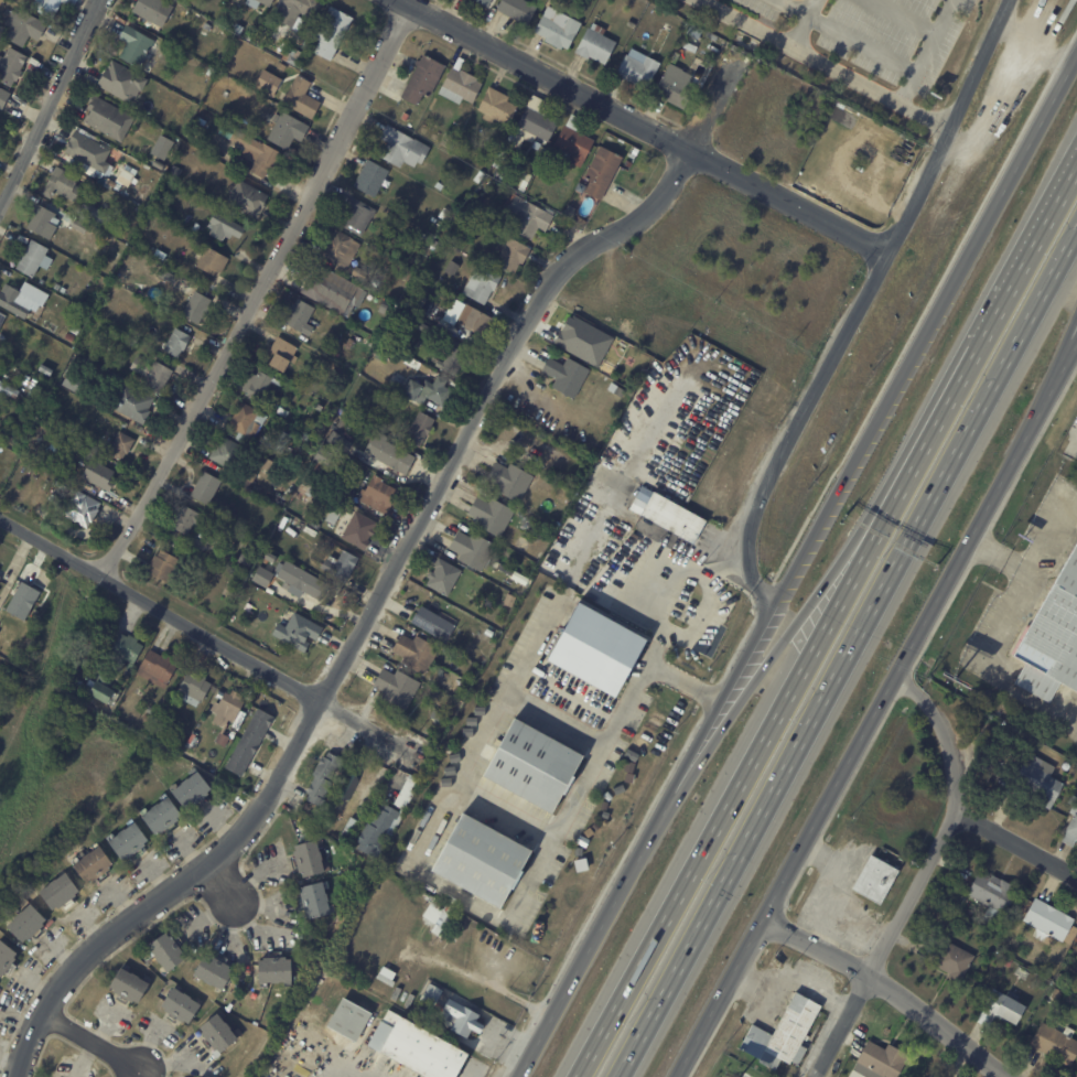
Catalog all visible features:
building: (189, 1)
building: (486, 2)
building: (255, 4)
building: (53, 6)
building: (157, 11)
building: (301, 11)
building: (523, 11)
road: (905, 18)
road: (806, 21)
building: (633, 23)
road: (746, 24)
building: (26, 28)
building: (240, 28)
building: (560, 29)
building: (335, 31)
building: (697, 33)
parking lot: (880, 33)
building: (666, 39)
road: (852, 40)
building: (599, 45)
building: (139, 49)
road: (933, 50)
building: (295, 55)
building: (12, 67)
building: (284, 67)
building: (640, 69)
building: (427, 79)
building: (122, 82)
building: (465, 84)
road: (876, 84)
building: (678, 87)
building: (4, 98)
building: (304, 99)
building: (499, 106)
road: (52, 107)
building: (407, 117)
building: (111, 119)
building: (538, 122)
road: (955, 126)
road: (643, 128)
building: (290, 131)
building: (449, 140)
building: (578, 141)
building: (162, 147)
building: (406, 148)
building: (87, 150)
building: (507, 150)
building: (545, 150)
building: (637, 152)
building: (260, 154)
building: (72, 163)
building: (160, 164)
building: (176, 172)
building: (605, 173)
building: (126, 174)
building: (541, 174)
building: (481, 177)
building: (375, 179)
building: (529, 180)
building: (64, 185)
building: (440, 185)
building: (250, 198)
building: (574, 212)
building: (98, 214)
building: (445, 214)
building: (362, 216)
building: (526, 216)
building: (44, 222)
building: (585, 222)
building: (82, 227)
building: (227, 227)
building: (423, 237)
building: (463, 239)
building: (439, 245)
building: (342, 250)
building: (515, 256)
building: (35, 259)
building: (214, 261)
building: (407, 272)
building: (362, 273)
building: (169, 277)
building: (57, 286)
building: (485, 286)
building: (64, 290)
building: (335, 290)
road: (257, 291)
building: (24, 300)
building: (198, 308)
building: (431, 309)
road: (999, 311)
building: (303, 316)
building: (473, 317)
building: (2, 321)
building: (375, 325)
building: (77, 330)
building: (428, 330)
building: (72, 337)
building: (138, 343)
building: (180, 344)
building: (351, 344)
building: (381, 346)
building: (283, 355)
building: (0, 358)
building: (456, 362)
building: (413, 363)
building: (85, 365)
building: (47, 369)
road: (1052, 371)
building: (155, 375)
building: (570, 377)
building: (76, 383)
building: (263, 387)
building: (9, 389)
building: (426, 389)
building: (620, 390)
building: (134, 403)
building: (323, 408)
building: (248, 422)
building: (356, 423)
road: (799, 424)
building: (422, 429)
building: (310, 438)
building: (341, 440)
building: (283, 442)
building: (61, 444)
building: (122, 446)
building: (231, 454)
building: (390, 454)
building: (325, 456)
building: (270, 465)
building: (322, 472)
building: (103, 475)
building: (514, 483)
building: (63, 484)
building: (209, 489)
building: (311, 493)
building: (383, 496)
building: (570, 496)
building: (111, 499)
building: (83, 507)
building: (494, 516)
building: (309, 517)
building: (191, 520)
building: (679, 520)
building: (362, 530)
building: (245, 541)
building: (475, 551)
building: (248, 560)
road: (796, 561)
building: (229, 562)
road: (726, 563)
building: (166, 566)
building: (342, 566)
building: (0, 568)
road: (390, 574)
building: (262, 577)
building: (445, 577)
building: (0, 578)
building: (302, 581)
building: (230, 591)
road: (713, 591)
building: (22, 600)
building: (511, 600)
building: (312, 605)
building: (440, 624)
building: (301, 632)
road: (549, 632)
building: (491, 633)
building: (8, 638)
building: (1053, 638)
road: (998, 639)
road: (215, 640)
building: (597, 647)
building: (125, 651)
building: (419, 653)
road: (844, 653)
road: (772, 654)
building: (160, 669)
building: (0, 679)
building: (196, 688)
building: (399, 689)
building: (106, 690)
building: (152, 710)
building: (229, 711)
road: (880, 711)
building: (148, 718)
building: (440, 718)
road: (610, 726)
building: (170, 728)
building: (225, 741)
building: (251, 742)
building: (633, 751)
building: (536, 765)
road: (748, 765)
building: (1036, 776)
building: (326, 779)
building: (193, 788)
road: (508, 805)
building: (163, 816)
building: (313, 820)
building: (390, 820)
building: (1071, 827)
building: (352, 831)
road: (557, 832)
building: (590, 833)
road: (1019, 838)
building: (130, 841)
building: (582, 842)
building: (310, 859)
building: (484, 861)
building: (95, 865)
road: (922, 875)
building: (572, 879)
building: (875, 879)
road: (222, 882)
building: (560, 885)
building: (992, 891)
building: (61, 892)
building: (560, 898)
building: (320, 901)
building: (969, 913)
building: (440, 915)
building: (990, 915)
building: (1048, 918)
building: (29, 924)
road: (252, 926)
building: (920, 934)
building: (1051, 949)
building: (170, 952)
building: (7, 958)
building: (952, 959)
building: (1006, 959)
building: (216, 971)
building: (277, 971)
building: (1058, 977)
building: (1067, 981)
building: (131, 987)
road: (888, 991)
building: (434, 993)
building: (1056, 995)
building: (182, 1005)
building: (1001, 1009)
building: (465, 1020)
building: (356, 1022)
building: (220, 1033)
building: (784, 1034)
road: (91, 1042)
building: (1056, 1042)
building: (420, 1048)
building: (882, 1059)
road: (349, 1076)

